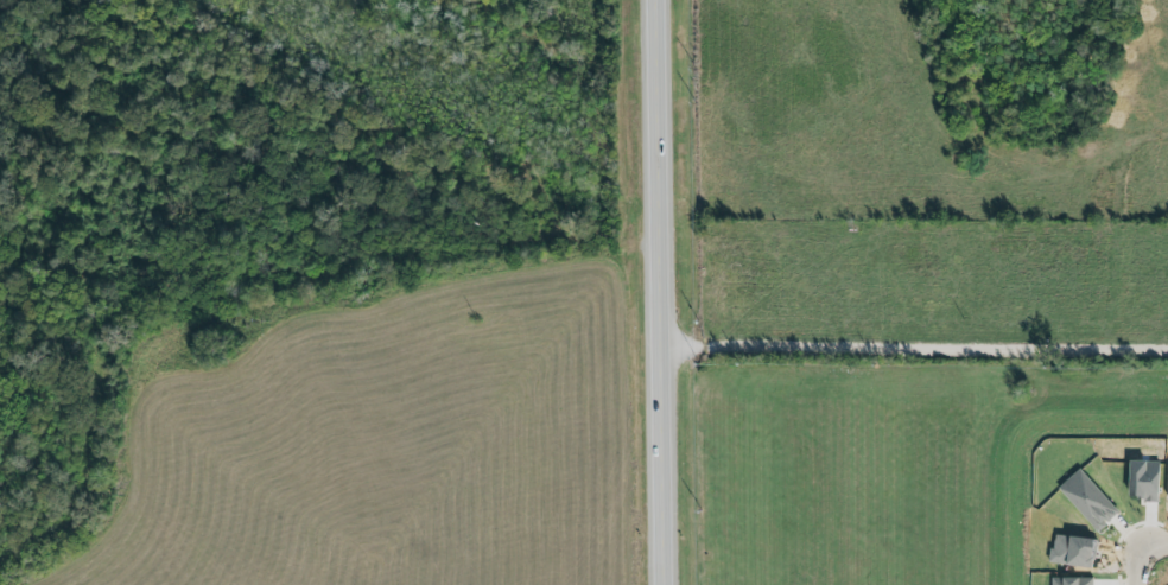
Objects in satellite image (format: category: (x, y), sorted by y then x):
road: (1126, 229)
road: (662, 292)
road: (915, 352)
road: (1148, 565)

